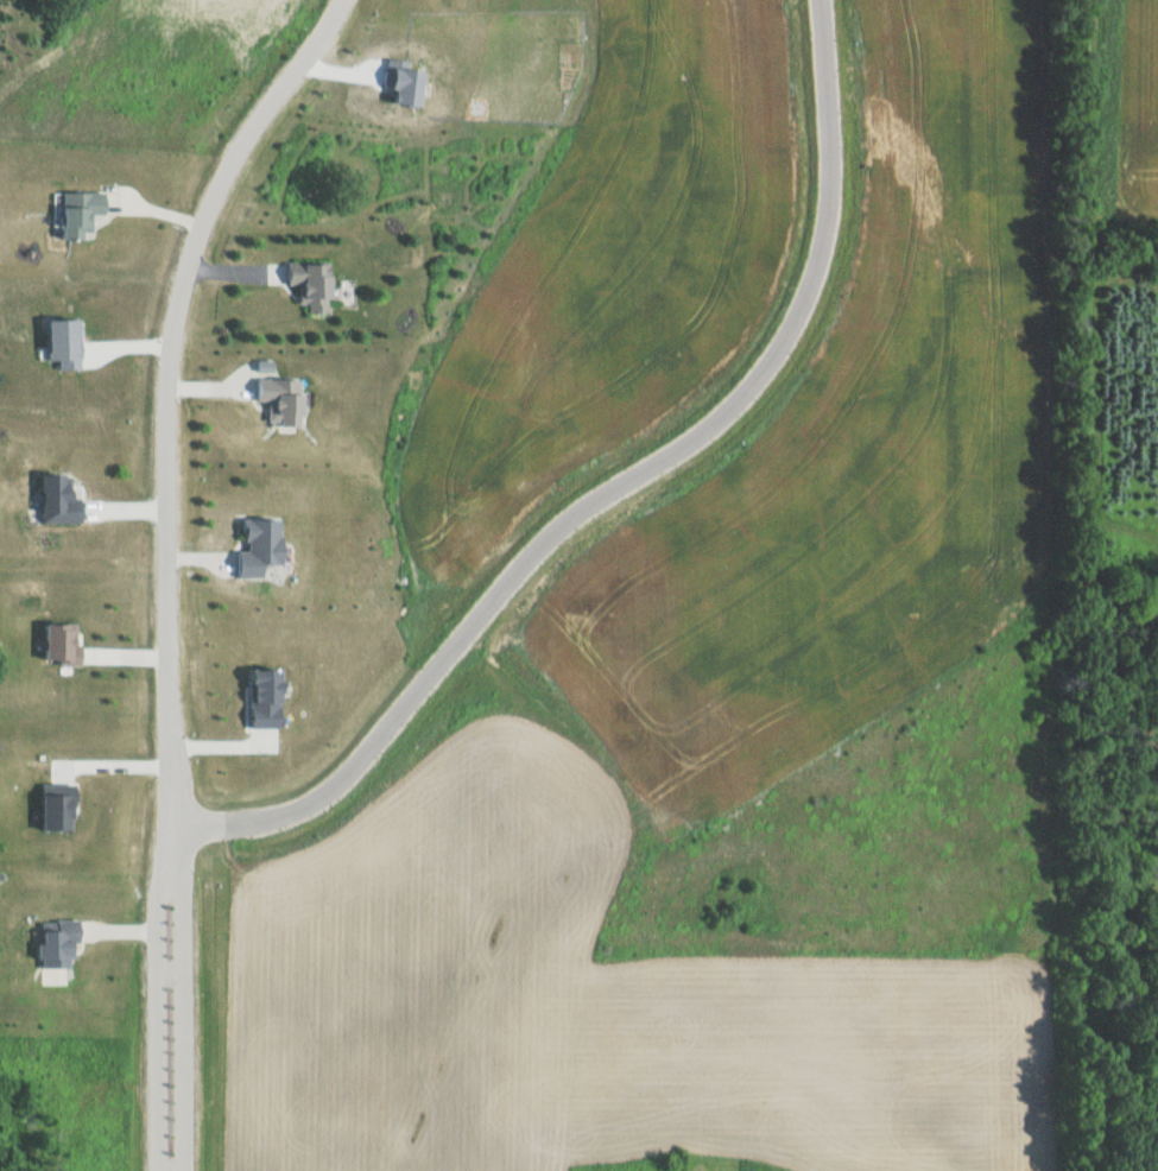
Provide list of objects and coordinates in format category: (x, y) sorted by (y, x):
building: (75, 215)
building: (312, 286)
road: (170, 562)

